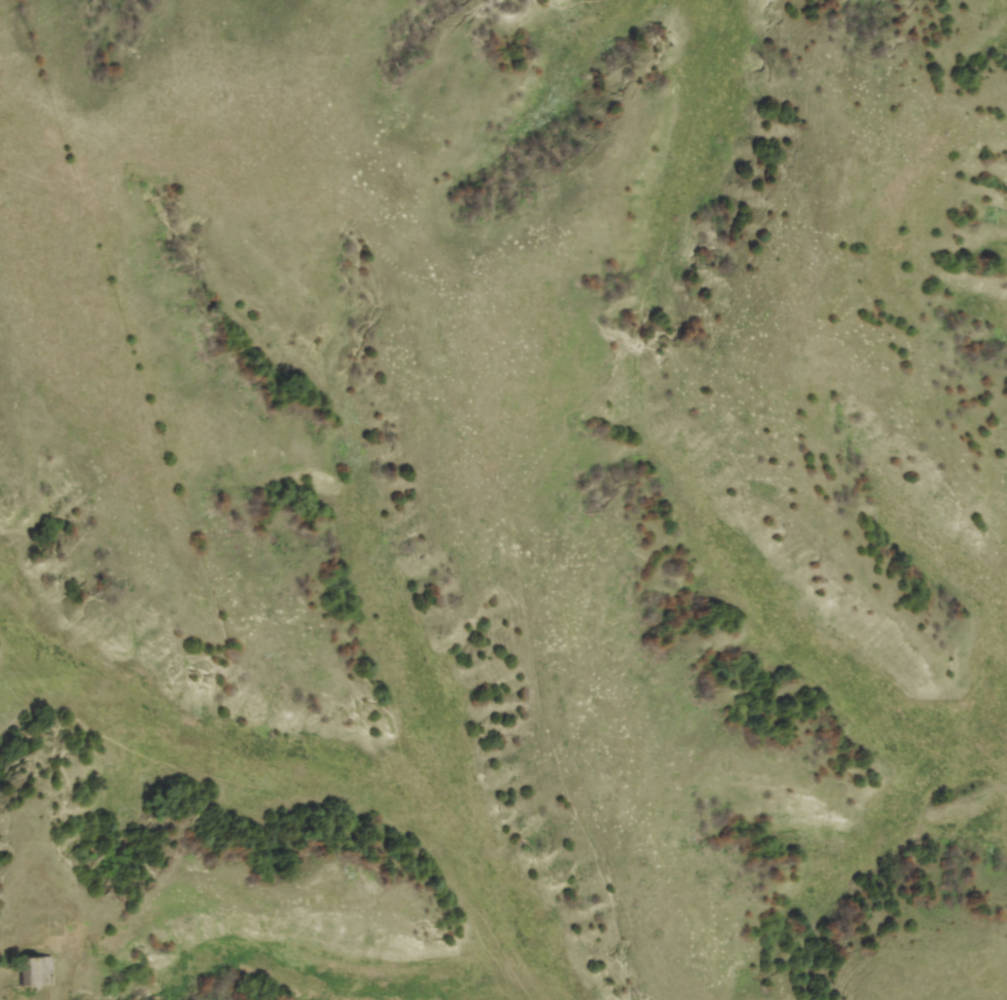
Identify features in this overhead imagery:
building: (28, 973)

